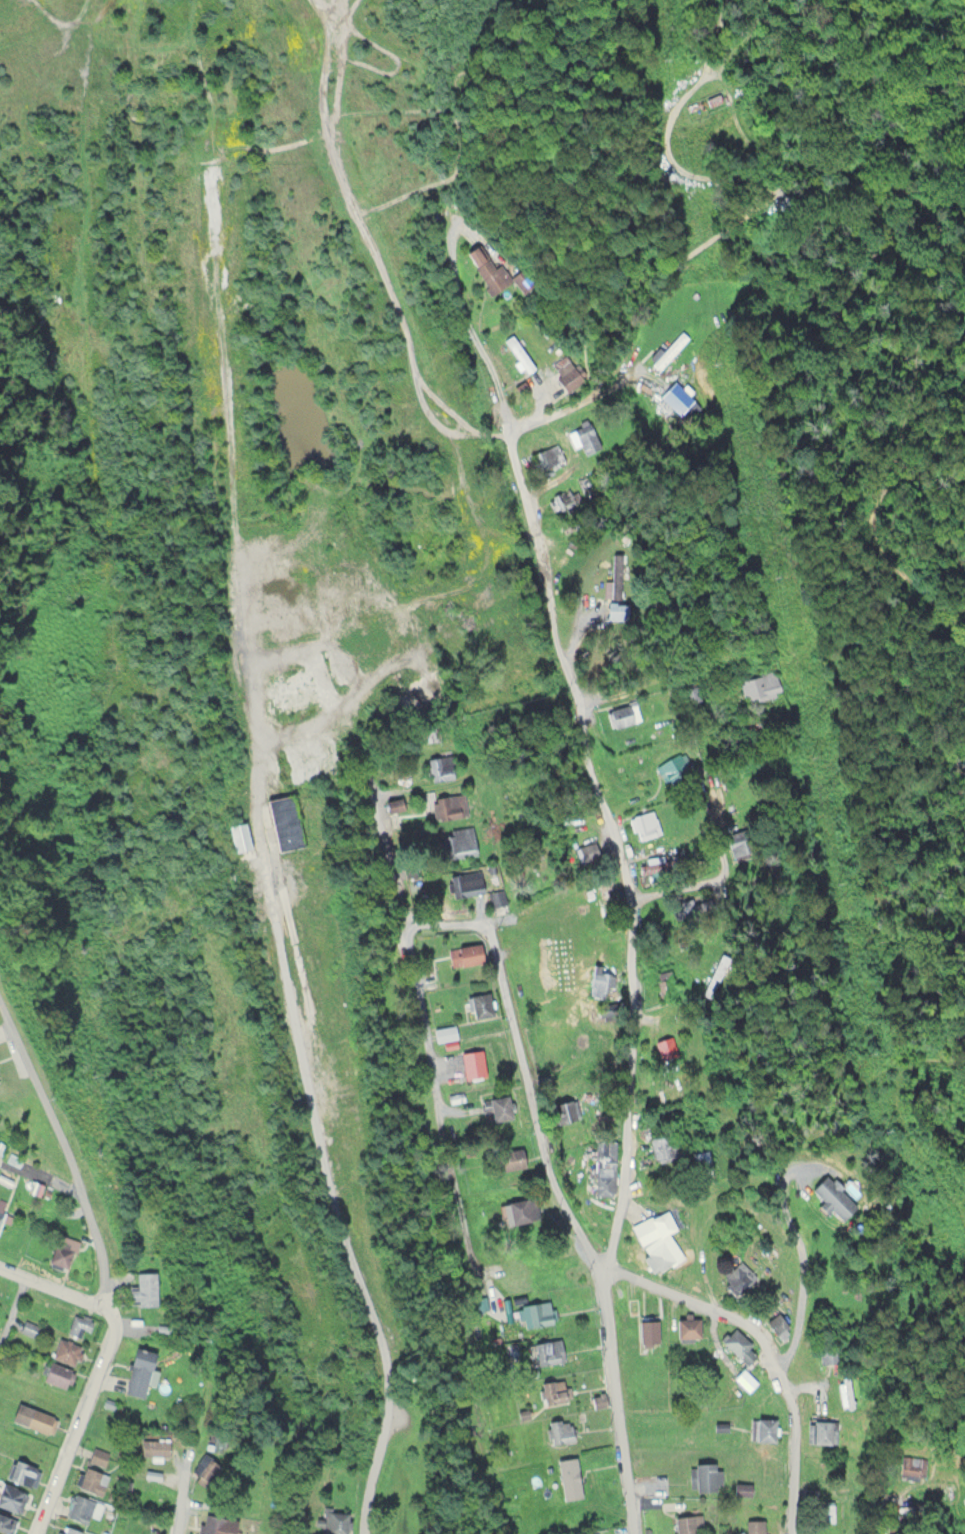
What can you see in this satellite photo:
building: (714, 99)
building: (496, 277)
road: (391, 296)
building: (668, 349)
building: (519, 351)
building: (567, 372)
building: (586, 437)
building: (547, 456)
building: (617, 590)
building: (760, 684)
building: (403, 688)
building: (622, 712)
road: (587, 714)
building: (433, 733)
building: (439, 765)
building: (672, 767)
building: (451, 805)
building: (285, 820)
building: (644, 823)
building: (241, 835)
building: (460, 841)
building: (737, 845)
road: (718, 861)
building: (661, 864)
building: (464, 881)
building: (607, 889)
building: (498, 897)
building: (556, 907)
building: (697, 910)
building: (466, 954)
building: (716, 974)
building: (525, 975)
building: (598, 980)
building: (665, 984)
building: (481, 1004)
building: (444, 1032)
building: (668, 1046)
building: (473, 1063)
road: (26, 1076)
road: (542, 1101)
building: (498, 1106)
building: (565, 1109)
building: (672, 1152)
road: (325, 1153)
building: (509, 1157)
building: (604, 1165)
building: (833, 1196)
building: (522, 1210)
building: (1, 1214)
building: (660, 1238)
building: (61, 1250)
building: (737, 1277)
building: (143, 1288)
road: (51, 1297)
building: (535, 1313)
road: (13, 1319)
building: (78, 1324)
building: (778, 1325)
building: (27, 1327)
building: (688, 1327)
road: (112, 1333)
building: (648, 1333)
road: (778, 1343)
building: (739, 1345)
building: (66, 1351)
building: (549, 1351)
building: (830, 1352)
building: (138, 1371)
building: (56, 1374)
building: (746, 1380)
building: (555, 1391)
building: (848, 1391)
building: (32, 1418)
building: (766, 1429)
building: (561, 1430)
building: (822, 1431)
building: (154, 1447)
building: (99, 1456)
building: (912, 1465)
building: (23, 1472)
building: (207, 1472)
building: (706, 1476)
building: (93, 1480)
building: (12, 1497)
road: (185, 1499)
road: (894, 1506)
building: (85, 1508)
building: (336, 1521)
building: (7, 1523)
building: (689, 1523)
building: (216, 1524)
building: (755, 1525)
building: (70, 1530)
building: (593, 1533)

